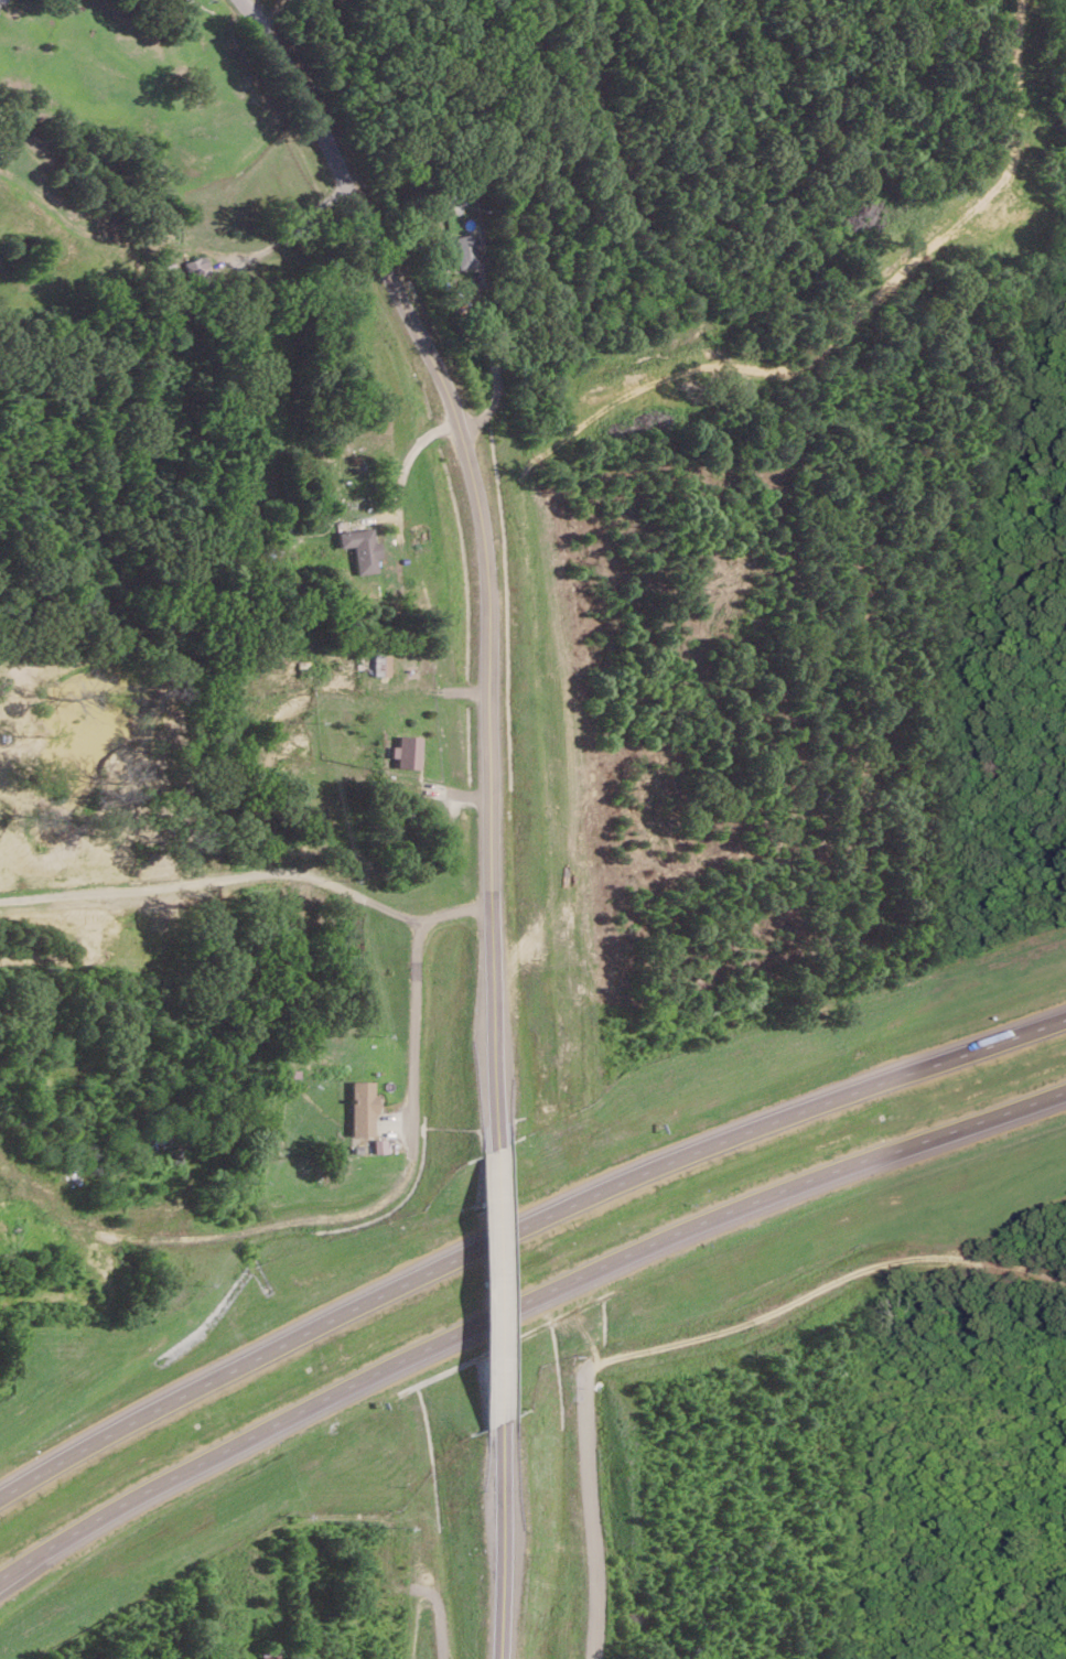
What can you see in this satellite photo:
road: (272, 11)
road: (173, 245)
building: (462, 250)
building: (197, 266)
road: (764, 338)
road: (497, 383)
road: (409, 448)
building: (360, 547)
road: (484, 547)
building: (380, 664)
road: (384, 680)
building: (407, 751)
road: (249, 866)
road: (413, 1019)
building: (362, 1107)
road: (519, 1230)
road: (494, 1284)
road: (820, 1285)
road: (519, 1301)
road: (592, 1509)
road: (495, 1540)
building: (270, 1656)

